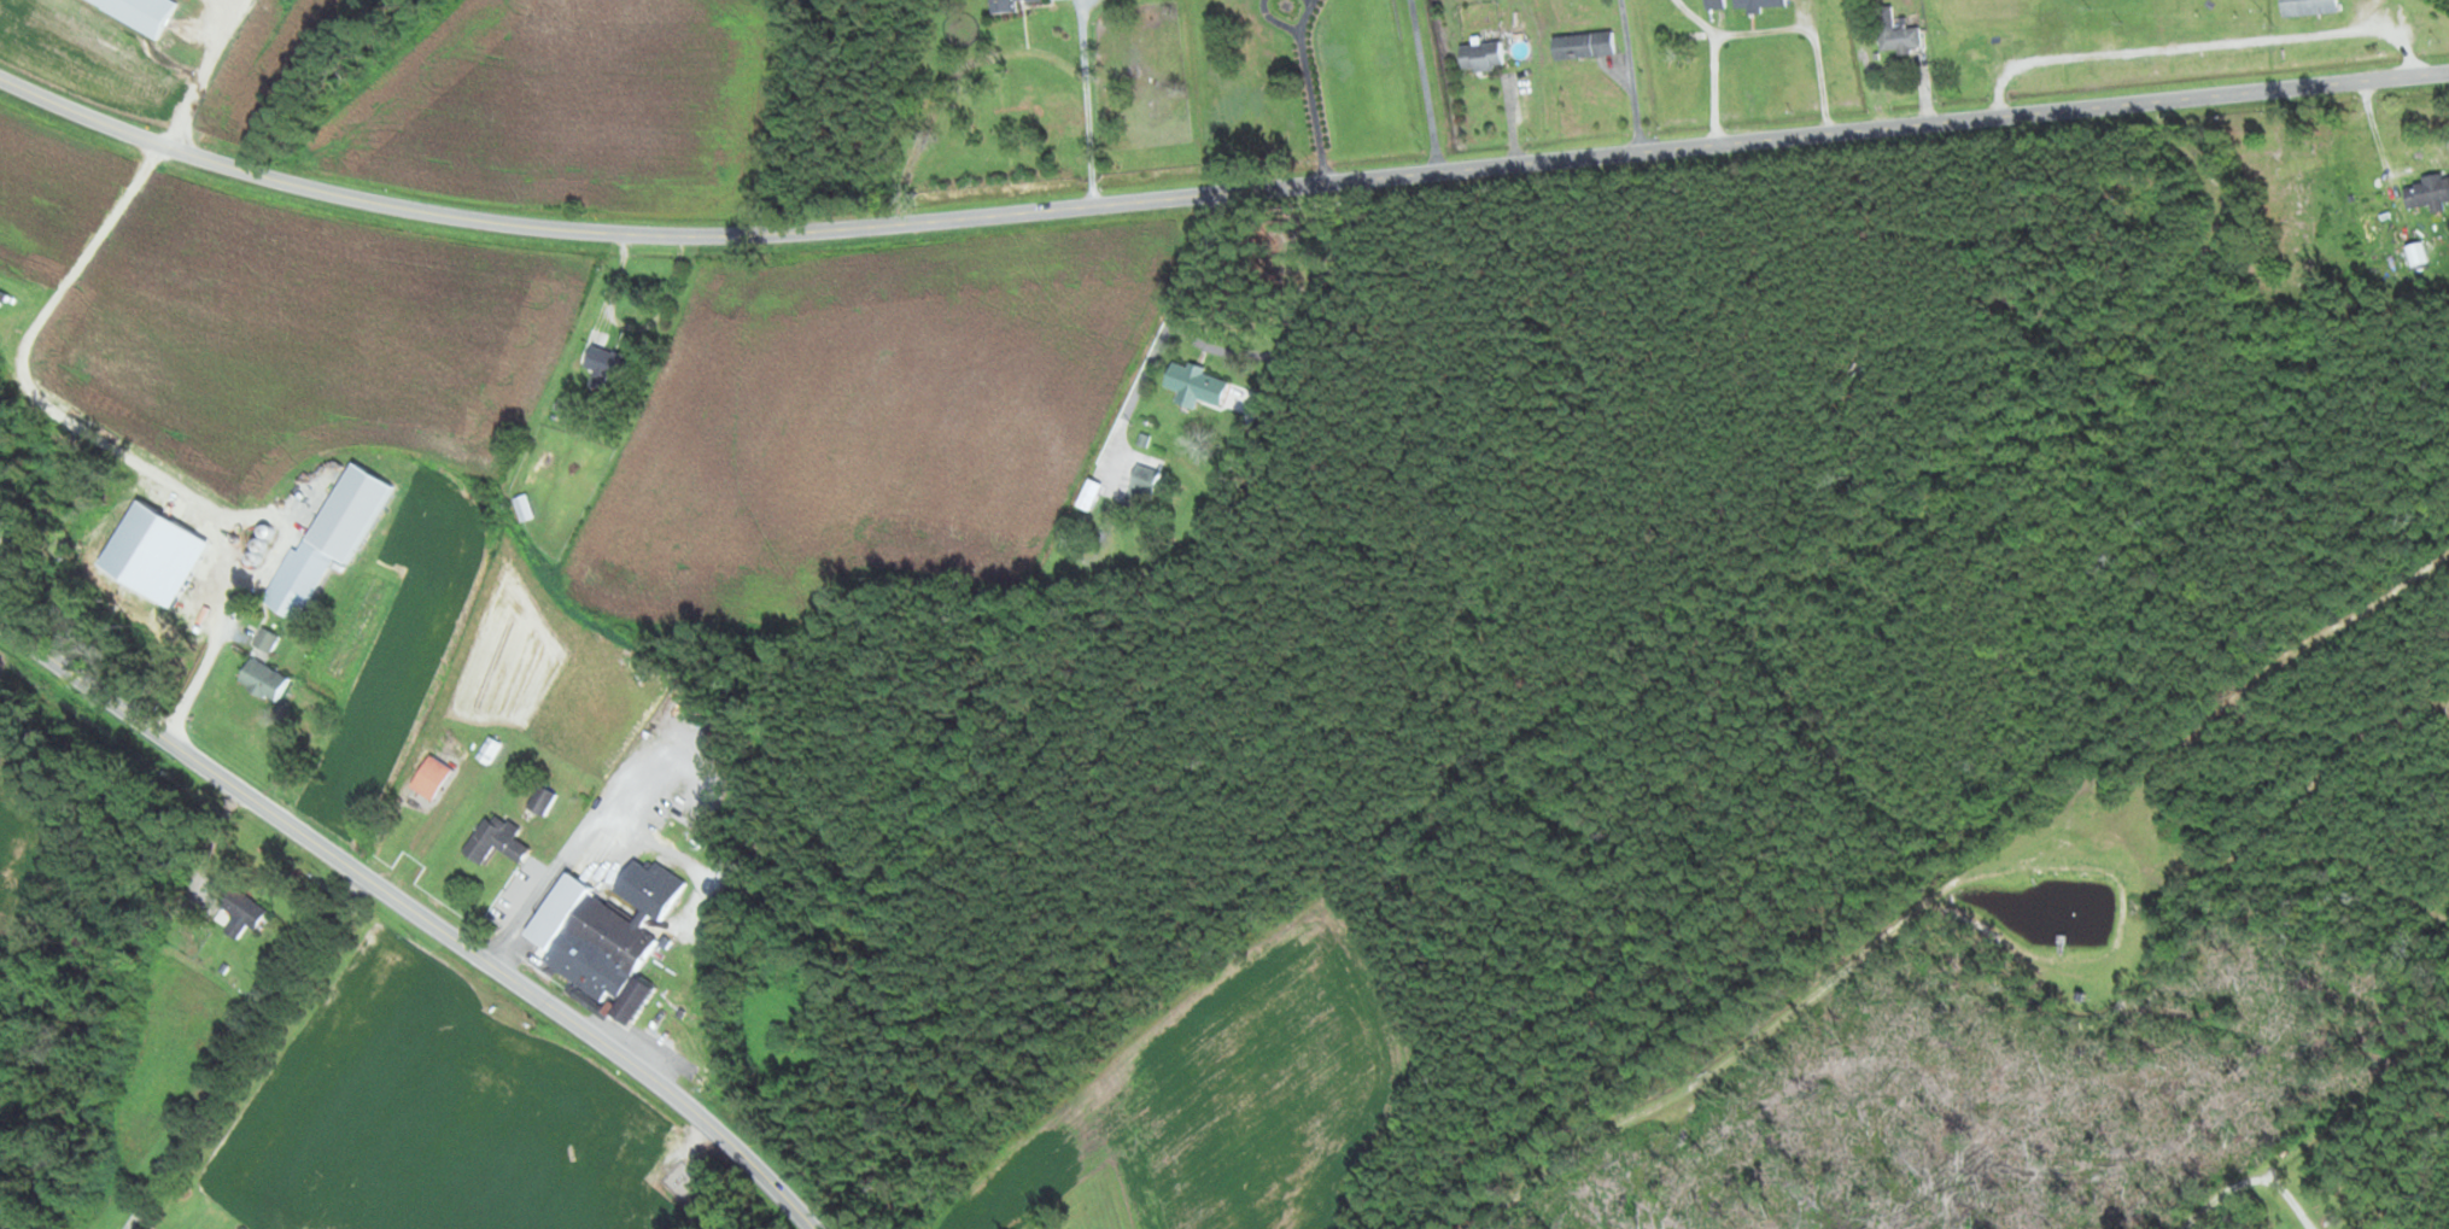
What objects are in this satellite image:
building: (1716, 4)
building: (1009, 5)
building: (1761, 5)
building: (2311, 7)
building: (145, 11)
building: (1898, 33)
building: (1585, 45)
building: (1484, 55)
road: (1083, 100)
road: (1214, 189)
building: (2430, 192)
building: (2418, 253)
building: (608, 363)
building: (1197, 382)
building: (1145, 481)
building: (1091, 492)
building: (331, 537)
building: (267, 637)
building: (264, 678)
building: (489, 748)
building: (433, 776)
building: (496, 838)
building: (244, 909)
road: (421, 909)
building: (614, 941)
road: (2220, 1196)

